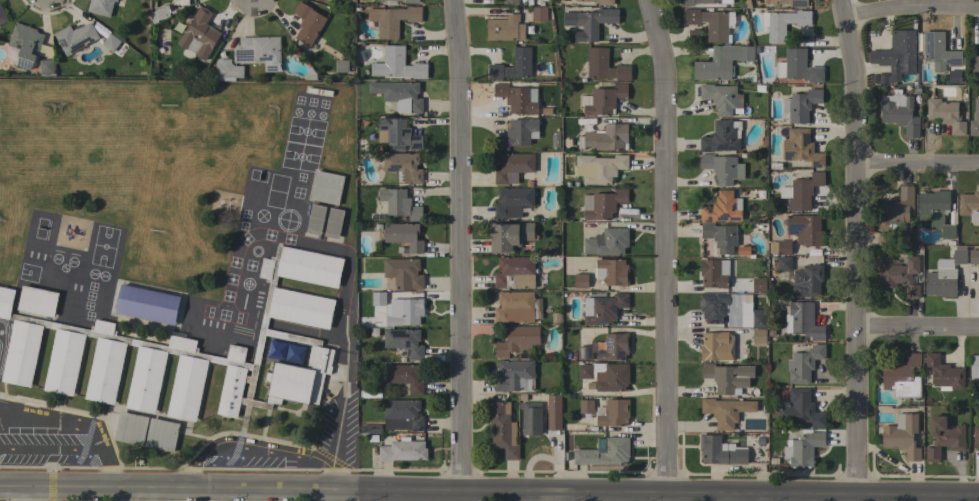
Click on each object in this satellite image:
building: (407, 1)
building: (511, 2)
building: (599, 2)
building: (697, 2)
building: (789, 2)
building: (100, 7)
road: (910, 8)
building: (160, 14)
building: (540, 14)
building: (2, 15)
building: (392, 20)
building: (589, 22)
building: (307, 23)
building: (711, 23)
building: (505, 29)
building: (776, 34)
building: (198, 35)
building: (75, 37)
building: (110, 42)
building: (25, 44)
building: (259, 52)
building: (938, 52)
building: (899, 53)
building: (521, 55)
building: (721, 62)
building: (975, 64)
building: (397, 65)
building: (46, 66)
building: (604, 66)
building: (341, 67)
building: (798, 67)
building: (227, 70)
building: (952, 77)
building: (398, 96)
building: (517, 98)
building: (722, 99)
building: (602, 100)
building: (801, 105)
building: (899, 113)
building: (945, 115)
building: (975, 120)
building: (585, 121)
building: (399, 133)
building: (517, 134)
building: (605, 137)
building: (721, 137)
building: (554, 142)
building: (801, 148)
road: (919, 165)
building: (402, 167)
building: (512, 167)
building: (599, 168)
building: (722, 168)
building: (326, 187)
building: (801, 191)
building: (512, 201)
building: (399, 203)
building: (602, 204)
building: (969, 206)
building: (722, 208)
building: (896, 210)
building: (935, 211)
building: (315, 219)
building: (333, 223)
building: (804, 229)
building: (404, 235)
building: (508, 236)
building: (720, 236)
building: (883, 239)
building: (607, 242)
road: (667, 243)
road: (461, 244)
road: (861, 246)
building: (783, 247)
building: (400, 251)
building: (742, 251)
building: (973, 257)
building: (783, 264)
building: (612, 271)
building: (515, 272)
building: (714, 273)
building: (944, 275)
building: (901, 276)
building: (807, 280)
building: (580, 281)
building: (759, 285)
building: (378, 295)
building: (37, 301)
building: (147, 304)
building: (514, 307)
building: (605, 309)
building: (729, 312)
building: (556, 318)
building: (804, 320)
road: (921, 329)
building: (758, 337)
building: (517, 340)
building: (404, 341)
building: (614, 346)
building: (716, 346)
building: (186, 350)
building: (584, 352)
building: (804, 364)
building: (974, 367)
building: (944, 372)
building: (513, 375)
building: (605, 375)
building: (404, 376)
building: (727, 377)
building: (903, 378)
building: (586, 406)
building: (800, 409)
building: (726, 411)
building: (554, 412)
building: (613, 413)
building: (402, 415)
building: (531, 418)
road: (75, 423)
building: (369, 429)
building: (501, 430)
building: (146, 431)
building: (902, 435)
building: (976, 436)
building: (944, 438)
road: (334, 444)
road: (247, 449)
building: (803, 449)
building: (402, 450)
building: (720, 451)
building: (604, 452)
building: (760, 456)
road: (181, 487)
road: (671, 490)
road: (34, 493)

